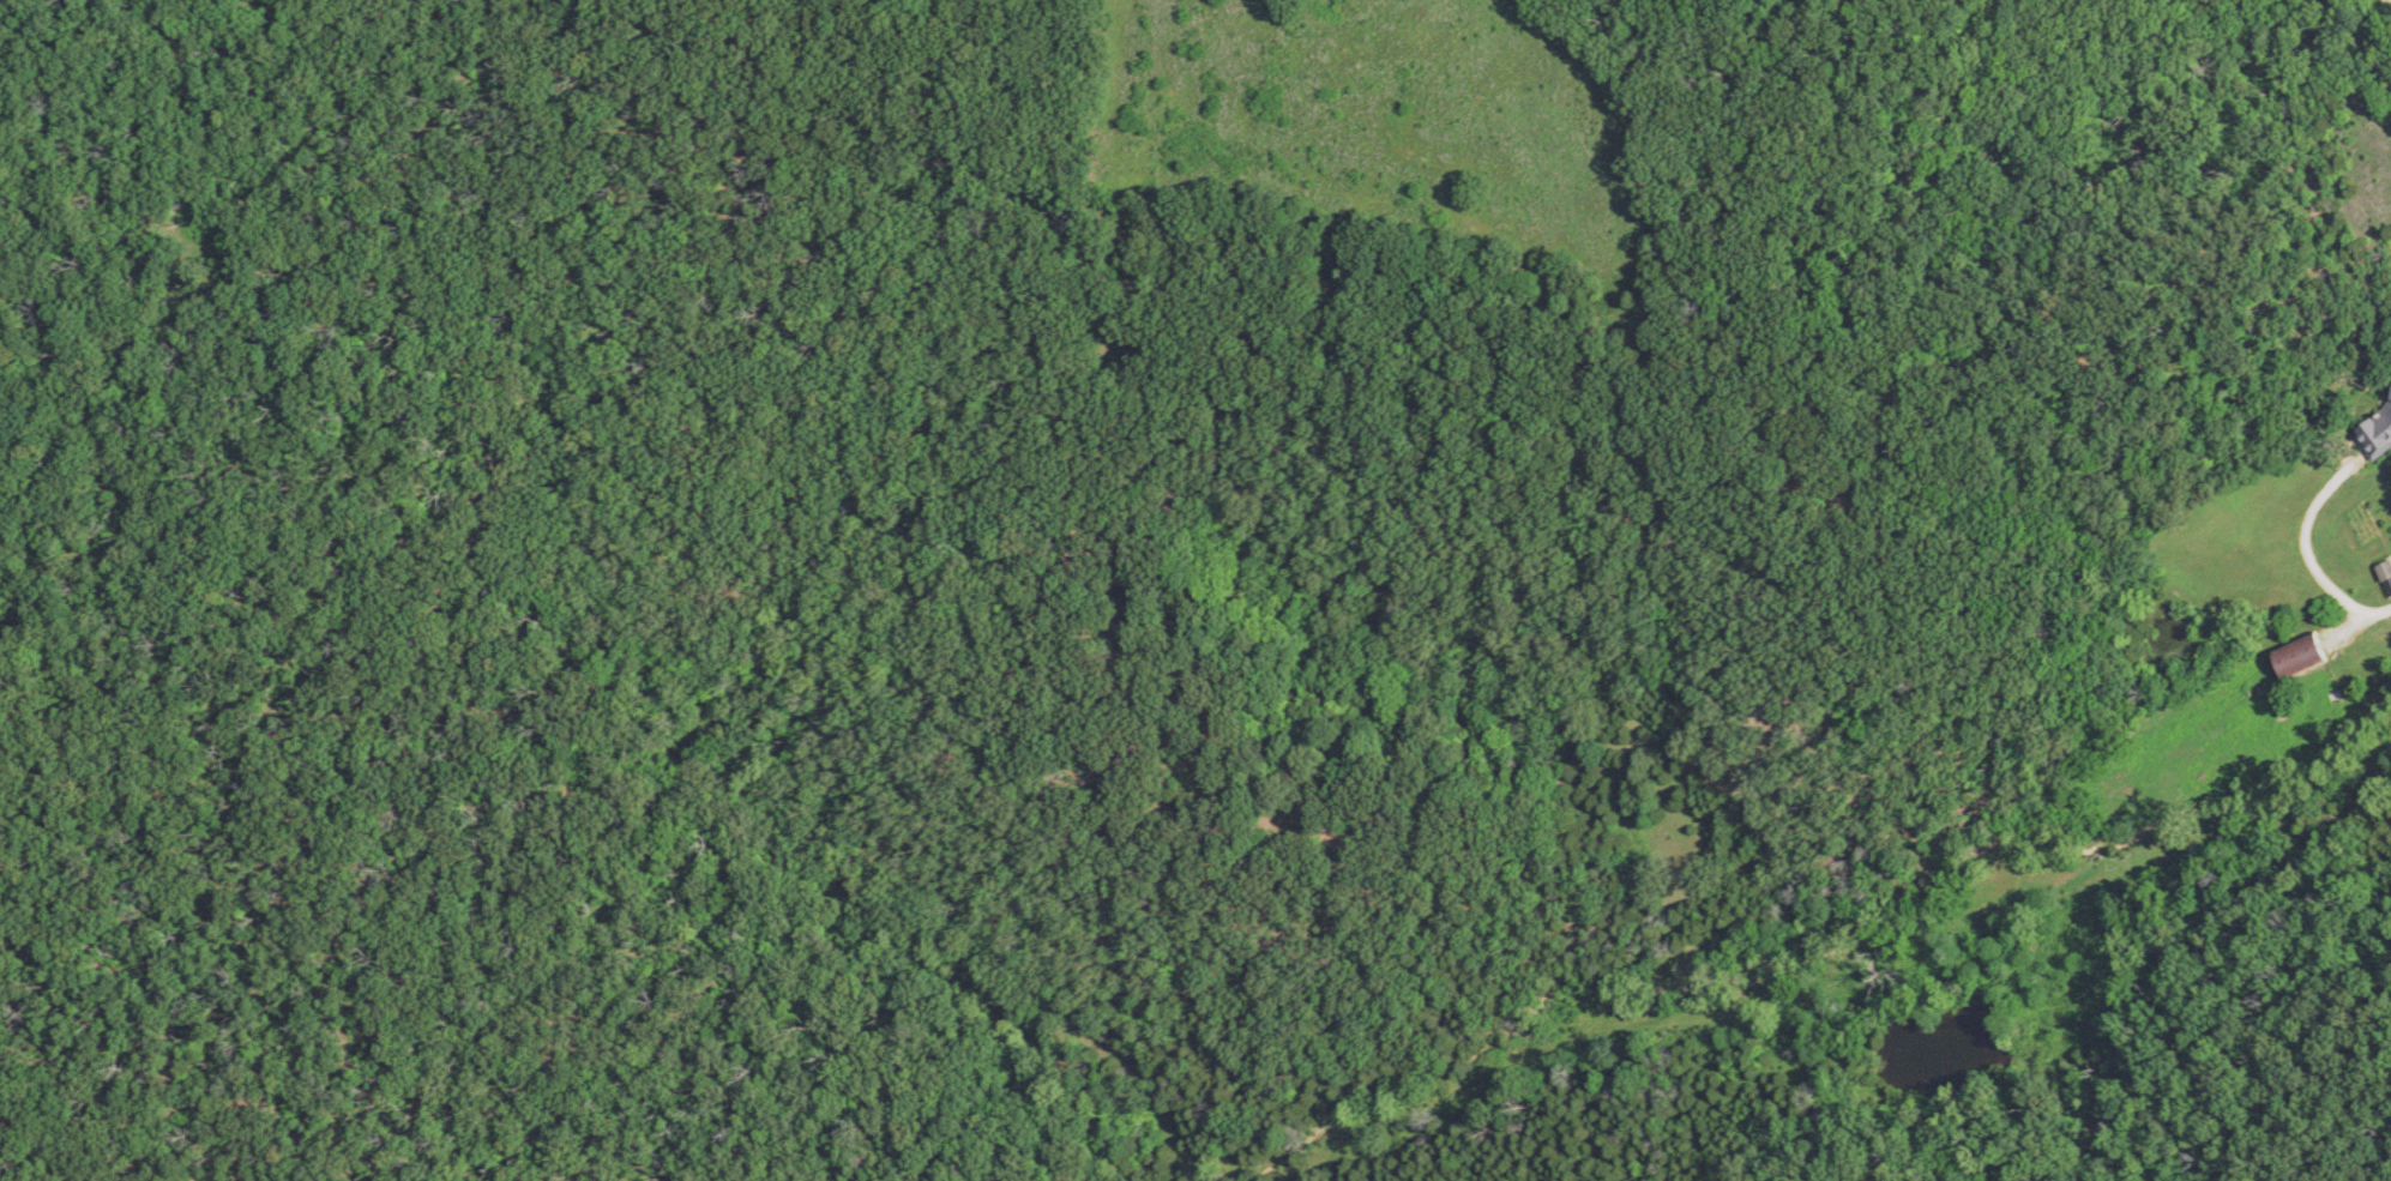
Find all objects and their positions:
road: (2312, 556)
building: (2385, 578)
building: (2300, 656)

